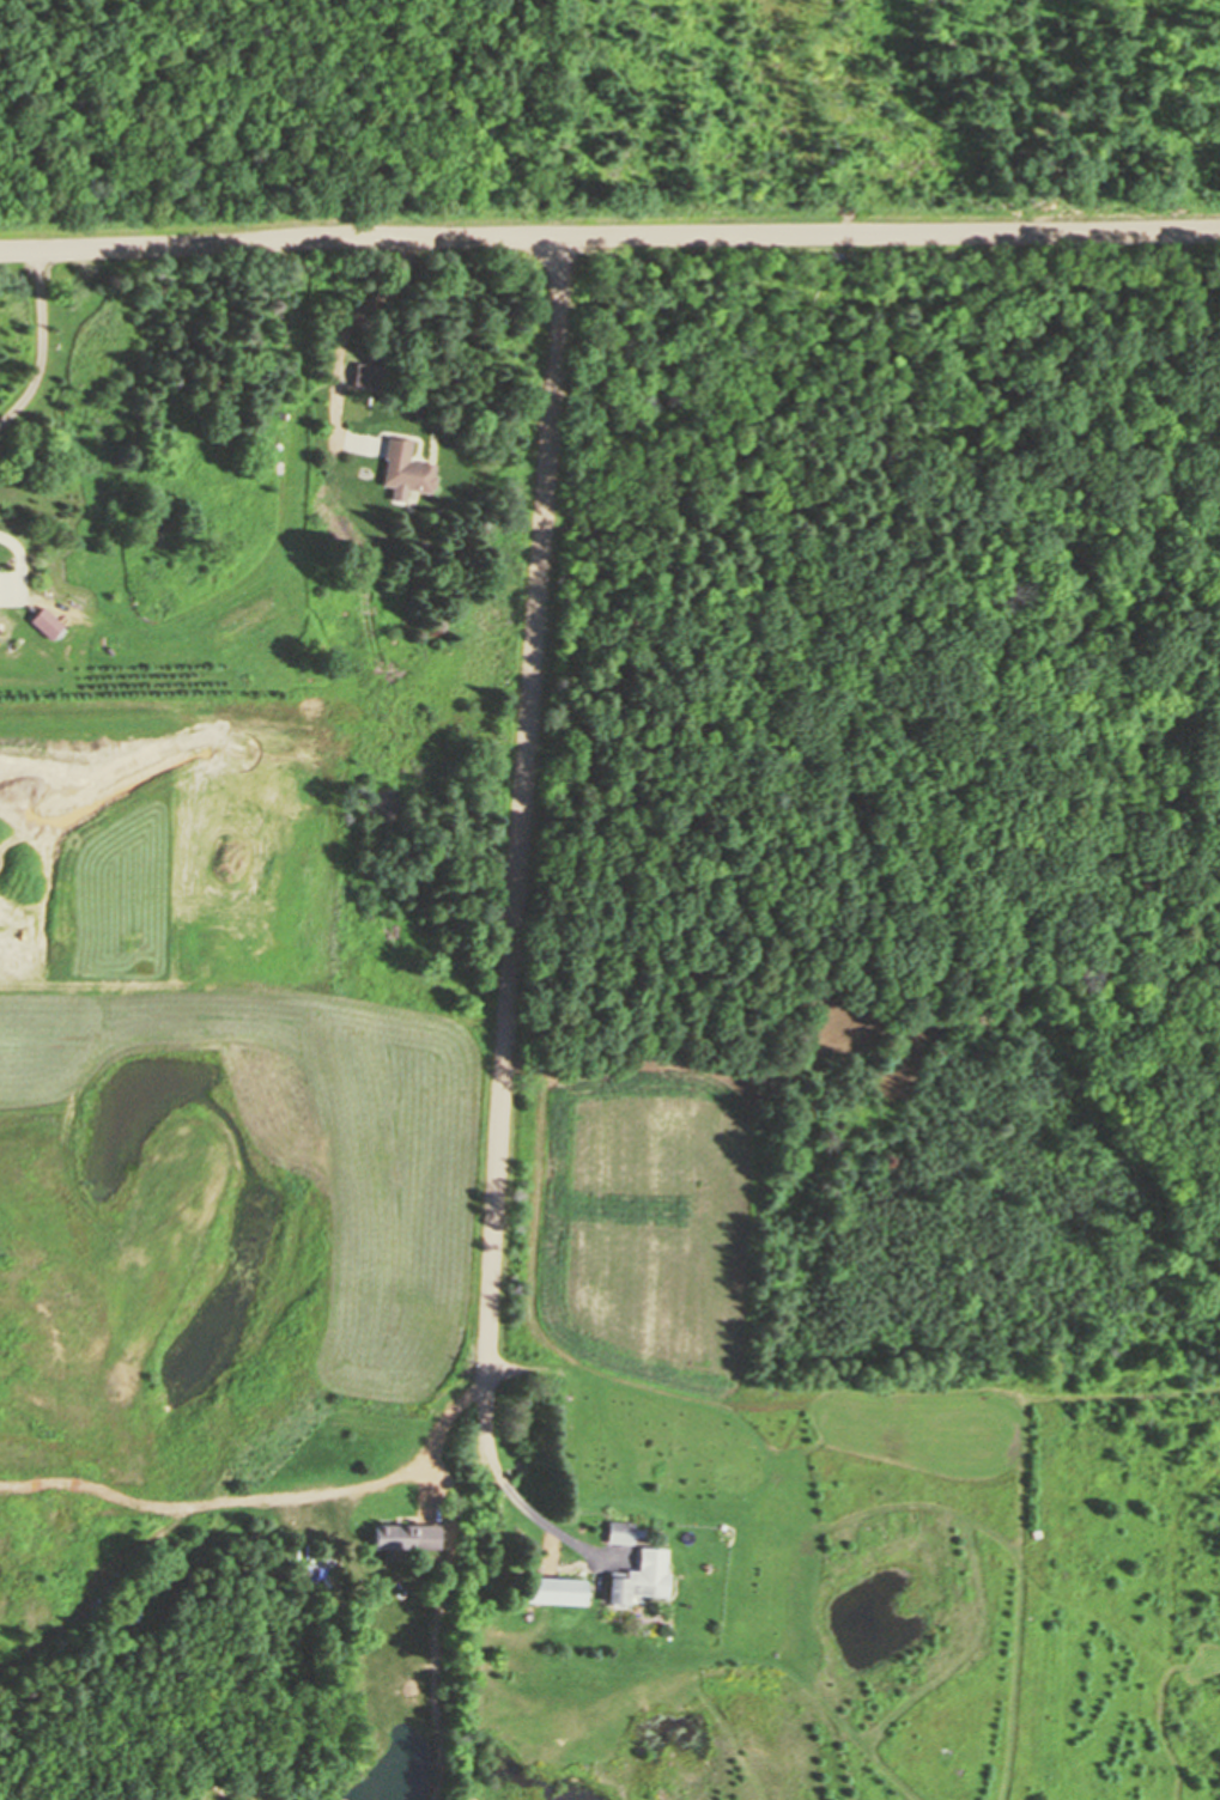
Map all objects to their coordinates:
road: (609, 237)
building: (370, 375)
building: (408, 469)
building: (49, 624)
road: (524, 811)
building: (625, 1533)
building: (411, 1537)
building: (562, 1586)
building: (635, 1587)

